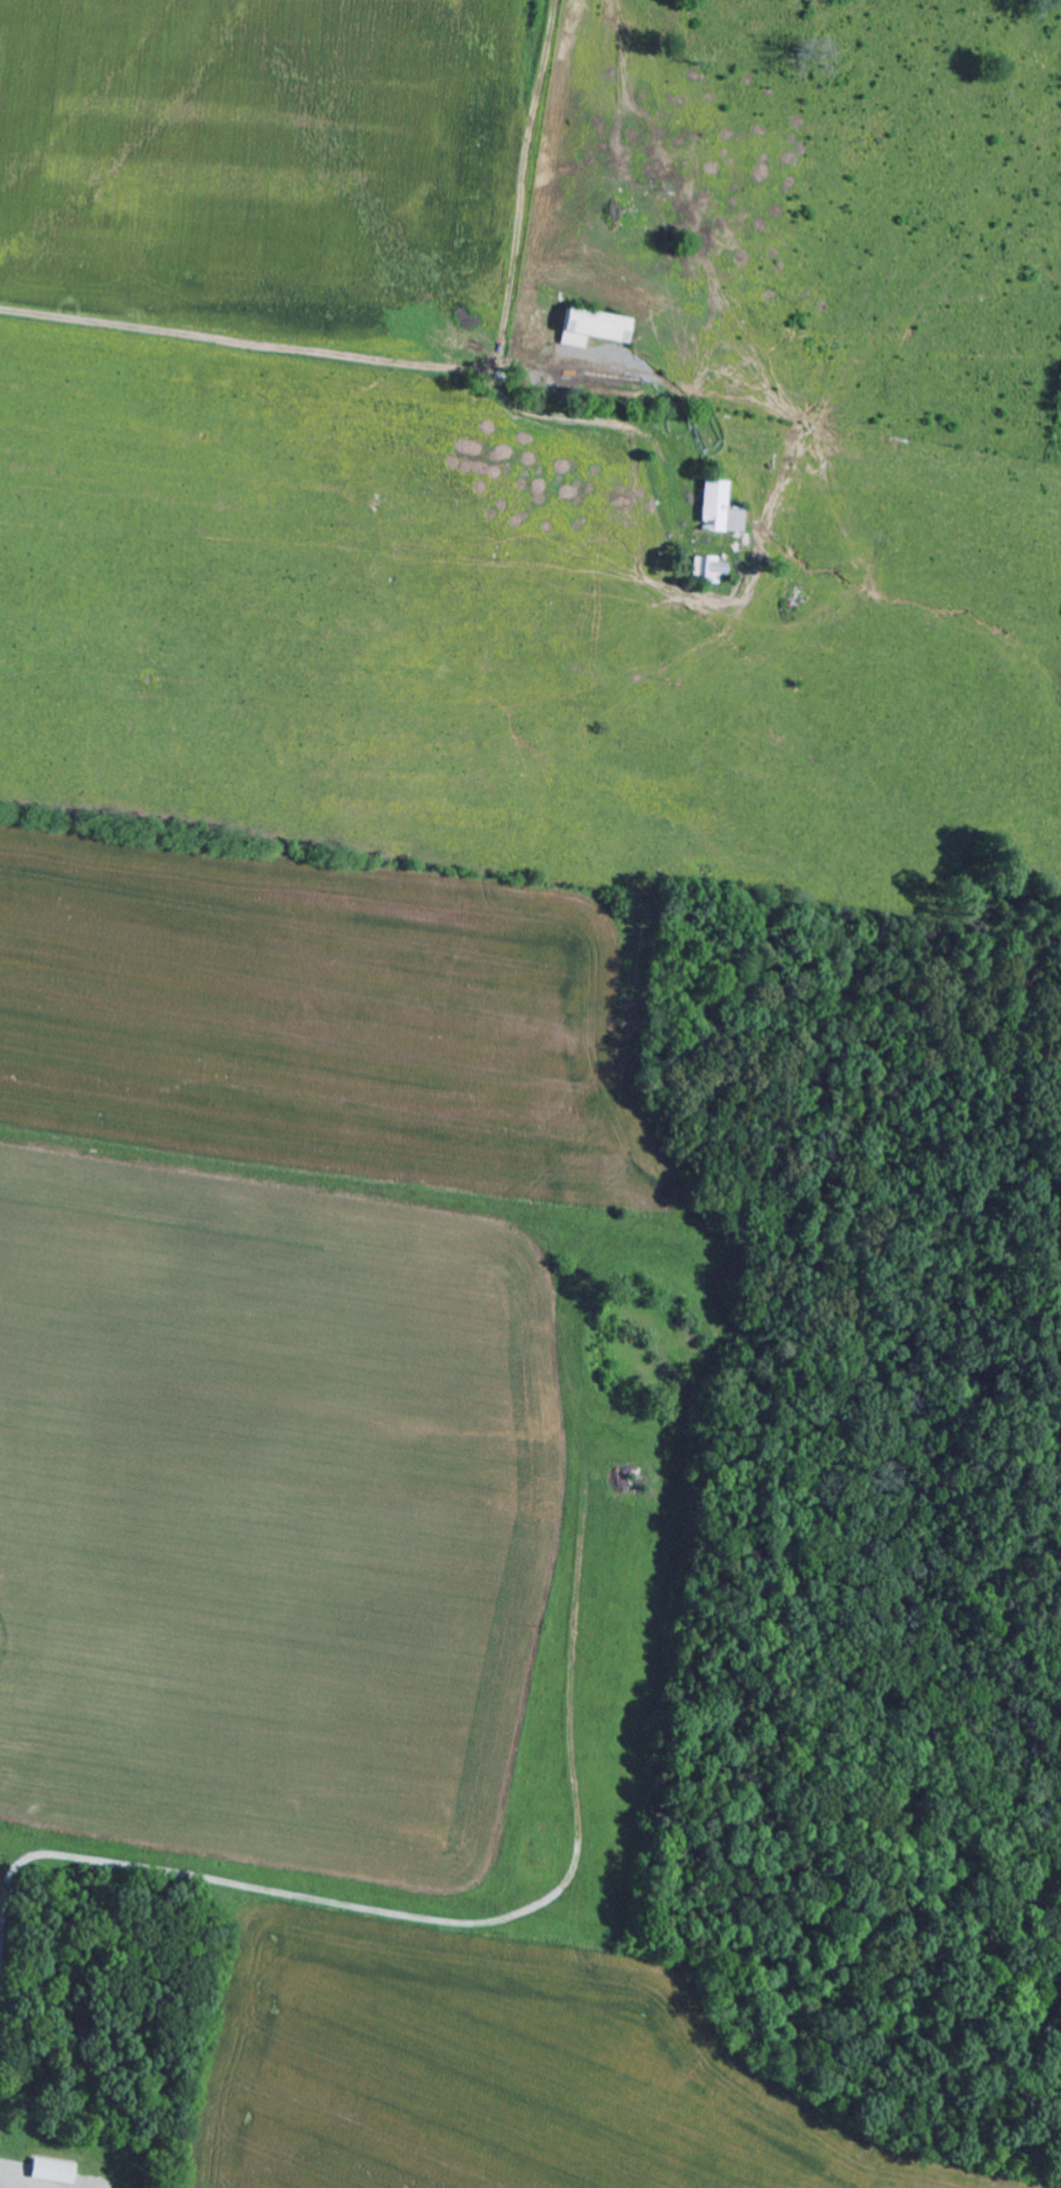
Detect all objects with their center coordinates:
road: (518, 195)
building: (601, 329)
road: (232, 342)
building: (726, 511)
building: (720, 570)
building: (57, 2172)

